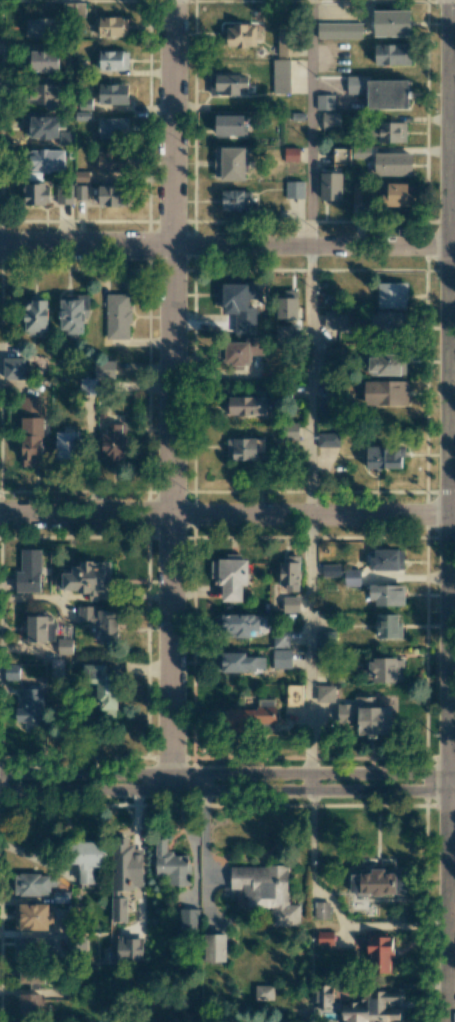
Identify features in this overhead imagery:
building: (392, 23)
building: (108, 26)
building: (41, 27)
building: (339, 30)
building: (240, 35)
building: (286, 43)
building: (392, 54)
building: (113, 60)
building: (281, 75)
building: (228, 84)
building: (354, 84)
building: (113, 93)
building: (387, 94)
building: (45, 95)
building: (325, 101)
building: (330, 120)
road: (310, 123)
building: (229, 124)
building: (40, 125)
building: (113, 127)
building: (392, 132)
building: (361, 152)
building: (291, 154)
building: (46, 160)
building: (112, 161)
building: (229, 163)
building: (393, 164)
building: (330, 186)
building: (294, 189)
building: (80, 192)
building: (357, 192)
building: (37, 194)
building: (395, 194)
building: (64, 195)
building: (112, 196)
building: (235, 200)
road: (227, 246)
building: (392, 295)
building: (239, 296)
building: (287, 308)
building: (72, 312)
building: (35, 315)
building: (117, 316)
building: (335, 320)
building: (386, 322)
building: (285, 333)
building: (257, 349)
building: (236, 352)
building: (386, 365)
building: (13, 368)
building: (98, 378)
road: (309, 380)
building: (385, 393)
road: (170, 394)
building: (244, 406)
building: (290, 432)
building: (328, 440)
building: (31, 441)
building: (114, 443)
building: (68, 445)
building: (245, 447)
building: (383, 457)
road: (449, 511)
road: (227, 515)
building: (387, 559)
building: (330, 570)
building: (29, 571)
building: (290, 573)
building: (230, 576)
building: (351, 577)
building: (89, 578)
building: (387, 595)
building: (291, 604)
building: (100, 621)
building: (236, 625)
building: (388, 626)
building: (37, 629)
building: (326, 638)
road: (451, 648)
road: (309, 653)
building: (281, 658)
building: (241, 662)
building: (386, 670)
building: (11, 672)
building: (102, 685)
building: (325, 693)
building: (294, 695)
building: (30, 707)
building: (267, 712)
building: (365, 716)
building: (239, 718)
road: (227, 774)
road: (227, 790)
road: (451, 804)
road: (206, 848)
building: (88, 862)
building: (171, 864)
building: (124, 875)
building: (376, 882)
building: (31, 884)
building: (265, 891)
road: (335, 906)
park: (451, 907)
building: (321, 910)
building: (31, 916)
building: (188, 920)
building: (325, 937)
building: (30, 947)
building: (215, 947)
building: (129, 949)
building: (379, 953)
building: (32, 974)
building: (263, 992)
building: (323, 996)
building: (30, 1005)
building: (372, 1007)

